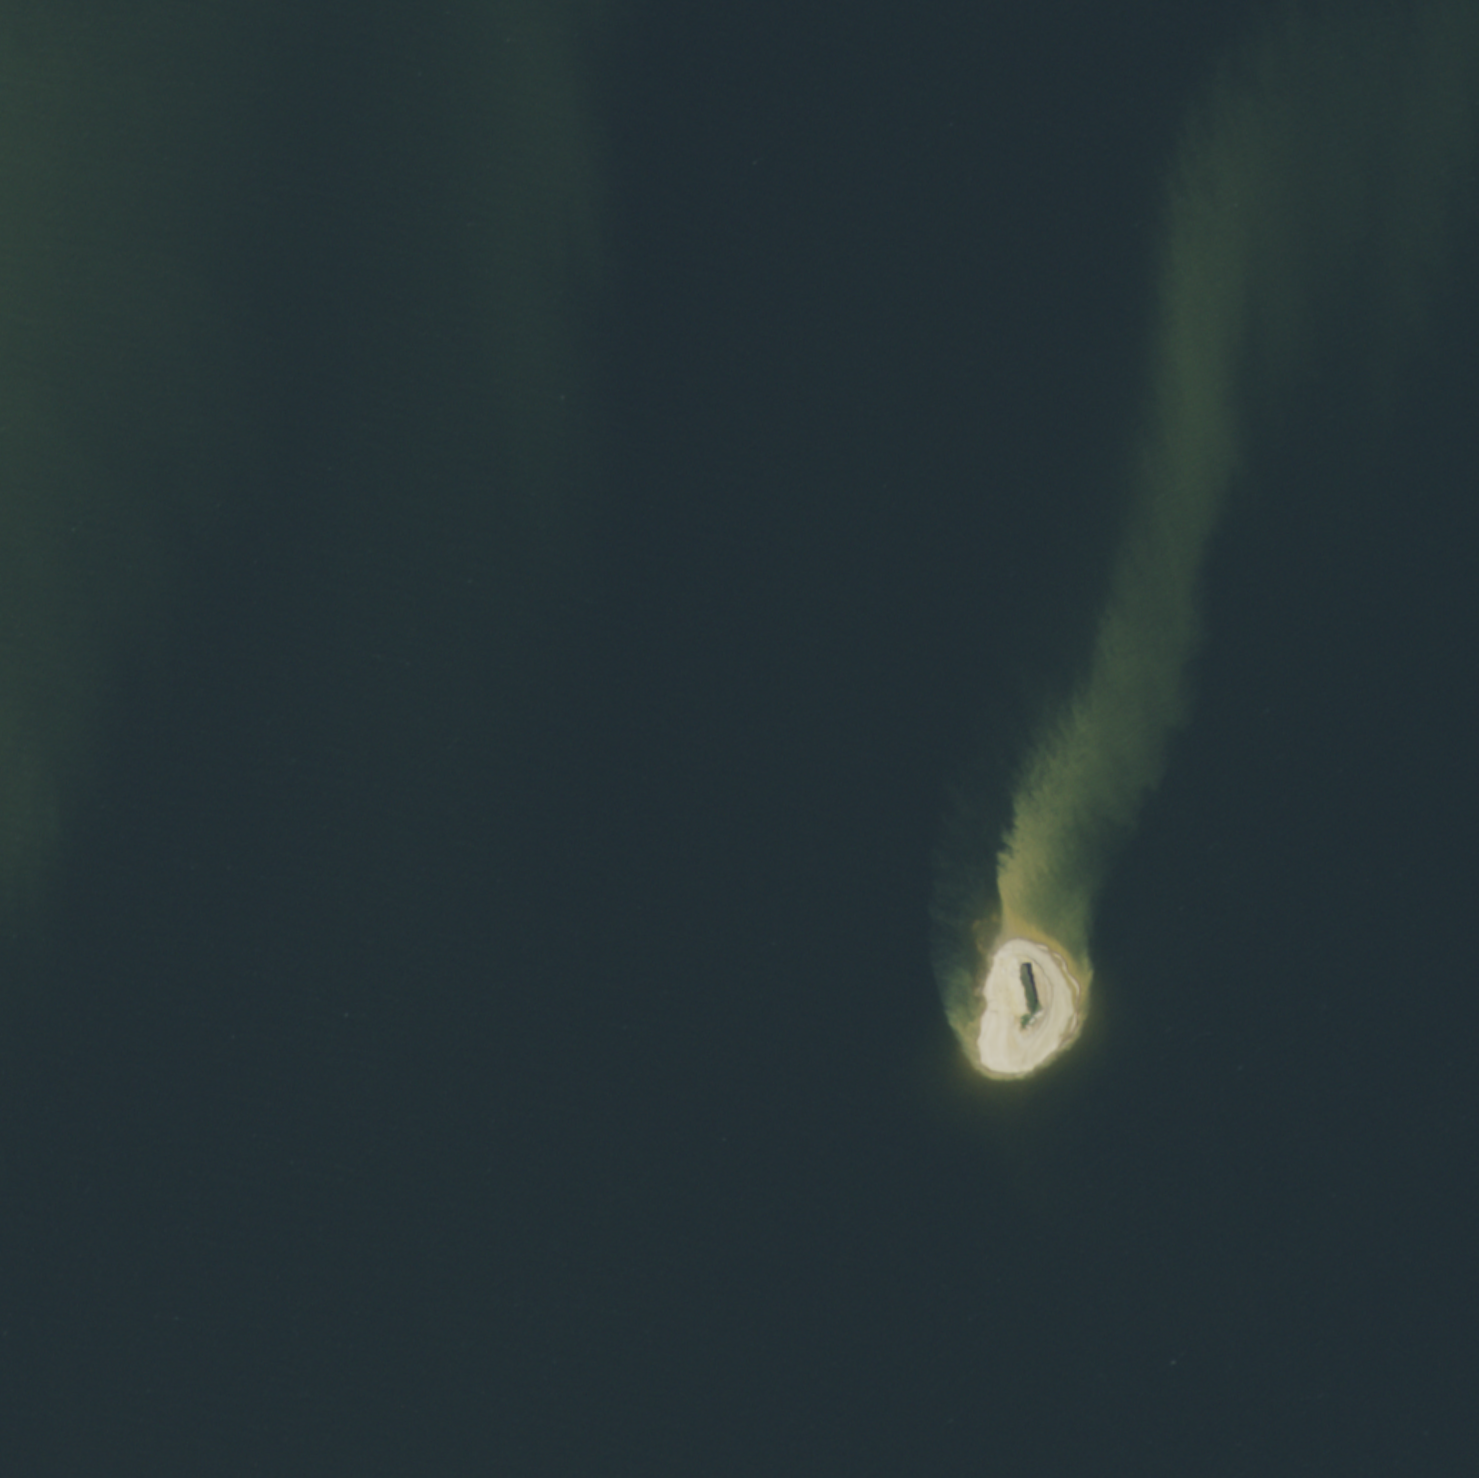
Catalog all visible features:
building: (632, 1109)

